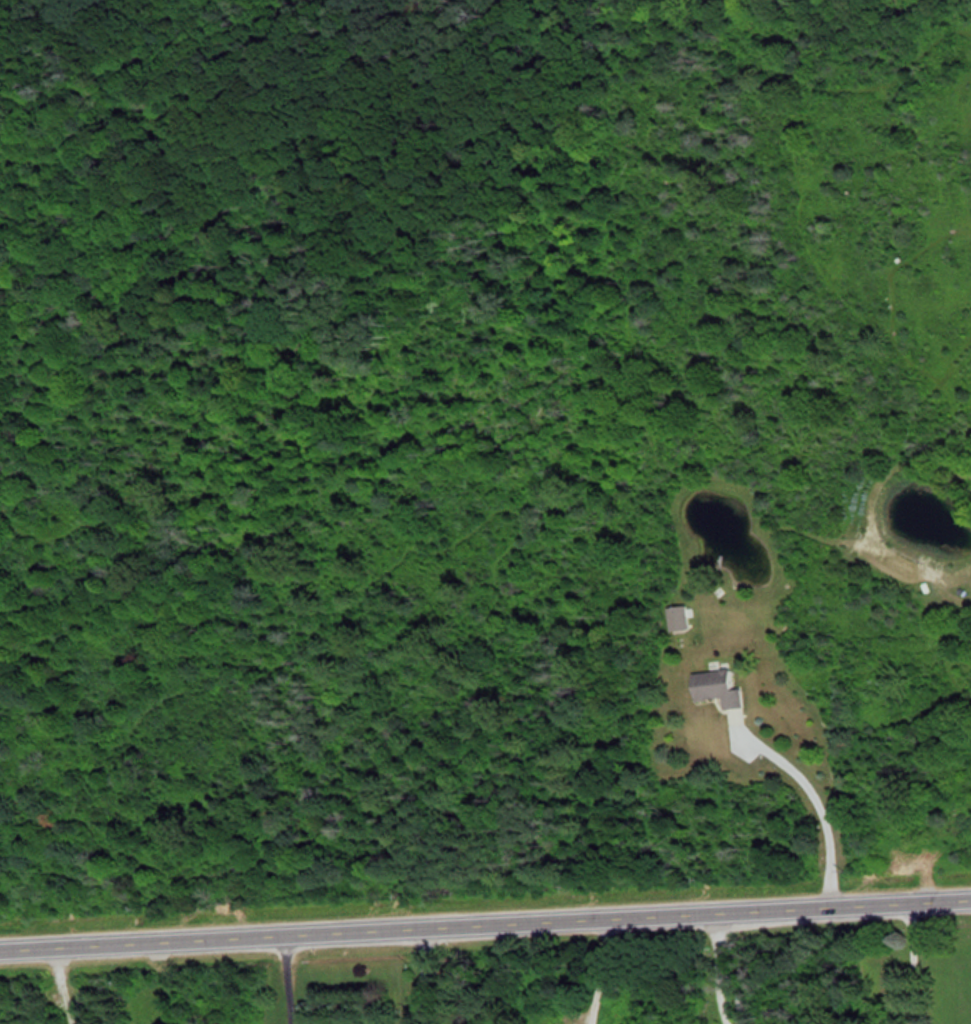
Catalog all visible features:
building: (681, 619)
building: (720, 686)
road: (485, 922)
road: (422, 975)

